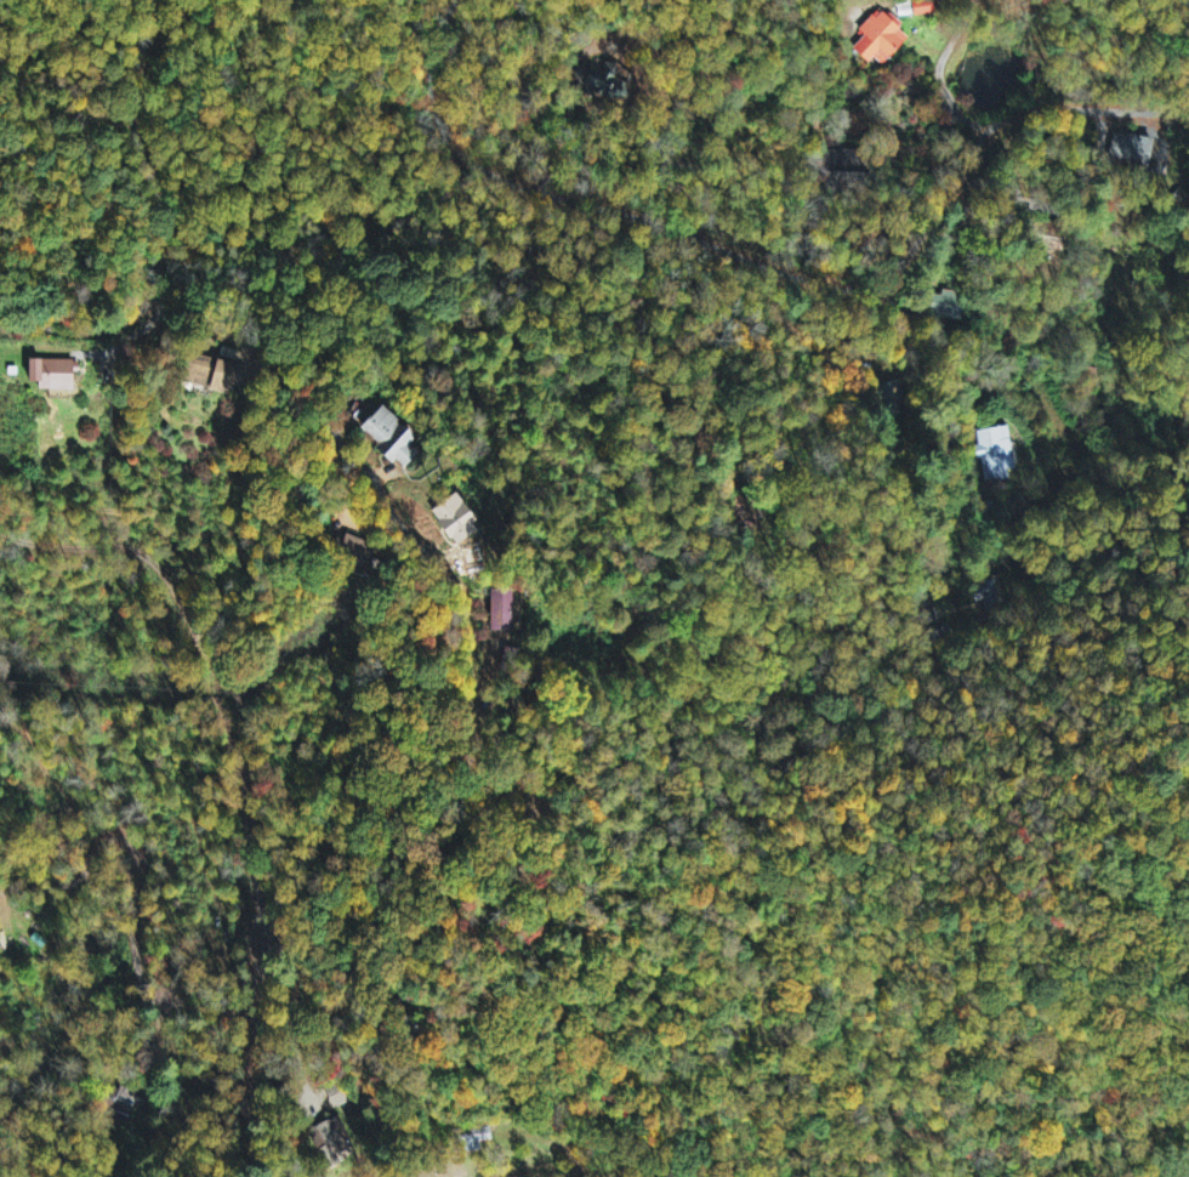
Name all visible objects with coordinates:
building: (883, 42)
road: (940, 72)
road: (1185, 144)
road: (142, 153)
road: (1049, 269)
road: (770, 271)
road: (75, 330)
building: (53, 376)
building: (394, 438)
road: (365, 481)
road: (1174, 506)
building: (513, 614)
road: (164, 1022)

